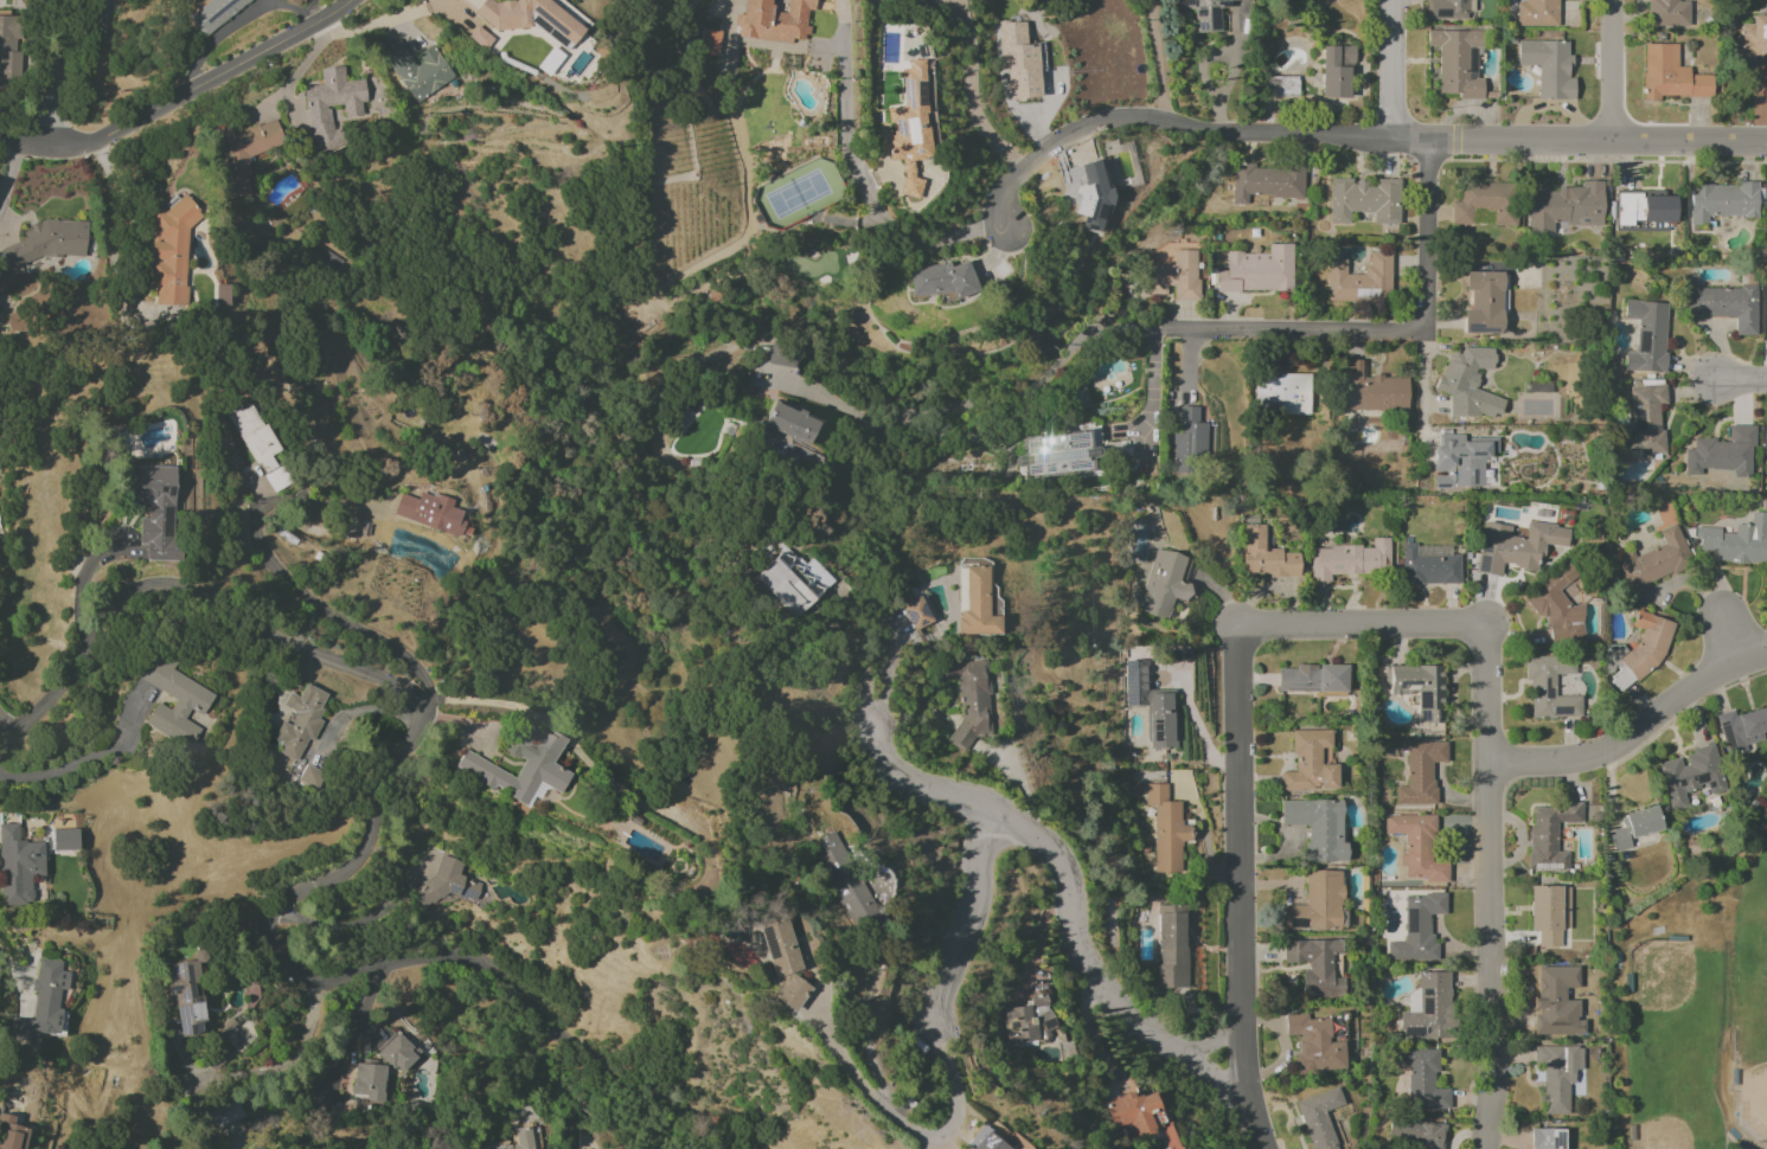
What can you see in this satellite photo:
building: (1447, 9)
road: (310, 11)
building: (212, 12)
building: (1204, 13)
building: (1536, 13)
building: (1667, 13)
building: (527, 18)
building: (775, 19)
road: (236, 26)
building: (480, 38)
building: (1752, 40)
building: (710, 41)
building: (8, 44)
building: (549, 60)
building: (1018, 60)
road: (1152, 60)
building: (1455, 62)
building: (1547, 66)
road: (58, 68)
building: (416, 69)
building: (1336, 70)
road: (1393, 70)
road: (1611, 71)
building: (1669, 75)
road: (1229, 76)
road: (203, 84)
building: (1281, 86)
building: (318, 110)
road: (1173, 123)
building: (910, 127)
road: (24, 141)
road: (1579, 142)
building: (243, 153)
road: (8, 165)
road: (858, 176)
building: (1265, 182)
building: (1093, 199)
building: (1364, 199)
building: (1721, 201)
building: (1484, 203)
building: (1564, 207)
building: (1643, 207)
building: (1766, 207)
road: (108, 232)
building: (47, 242)
building: (171, 253)
building: (1256, 270)
building: (1176, 276)
building: (941, 280)
building: (1359, 280)
building: (1481, 302)
building: (1724, 304)
building: (1766, 317)
road: (1401, 333)
building: (1646, 335)
building: (781, 358)
road: (1151, 371)
building: (1470, 383)
road: (1425, 385)
road: (1741, 385)
building: (1374, 390)
building: (1280, 394)
building: (790, 423)
building: (1644, 423)
building: (1189, 438)
building: (1722, 452)
building: (1057, 454)
building: (1460, 460)
building: (155, 508)
building: (433, 513)
building: (1736, 540)
building: (1515, 546)
building: (1266, 556)
building: (1350, 559)
building: (1656, 559)
building: (1428, 567)
road: (279, 572)
road: (78, 579)
building: (793, 580)
building: (1161, 584)
building: (974, 603)
building: (1557, 609)
building: (918, 611)
road: (1430, 630)
road: (1730, 638)
building: (1639, 649)
road: (886, 670)
building: (1311, 678)
building: (1550, 687)
building: (1420, 688)
building: (969, 699)
building: (1151, 704)
building: (190, 706)
building: (300, 720)
building: (1741, 728)
road: (8, 730)
road: (1635, 732)
road: (82, 759)
building: (1311, 762)
building: (520, 764)
building: (1420, 772)
building: (1691, 774)
building: (310, 777)
road: (372, 827)
building: (1634, 827)
building: (1318, 828)
building: (1166, 829)
building: (1549, 835)
building: (1416, 846)
building: (18, 865)
building: (846, 881)
building: (448, 882)
road: (1070, 887)
road: (1242, 891)
building: (1317, 904)
building: (1548, 913)
building: (1416, 929)
road: (959, 937)
building: (1171, 948)
road: (1492, 956)
building: (782, 959)
building: (1314, 965)
park: (1663, 978)
building: (187, 995)
building: (1549, 995)
building: (43, 1002)
building: (1427, 1008)
building: (1029, 1020)
road: (348, 1038)
building: (1313, 1044)
building: (398, 1053)
road: (262, 1070)
building: (1556, 1074)
building: (1421, 1078)
building: (367, 1083)
park: (1761, 1098)
road: (888, 1108)
building: (1137, 1112)
building: (226, 1113)
building: (1319, 1118)
road: (270, 1119)
building: (12, 1132)
building: (1417, 1134)
building: (1548, 1138)
building: (518, 1140)
park: (1660, 1140)
building: (986, 1141)

